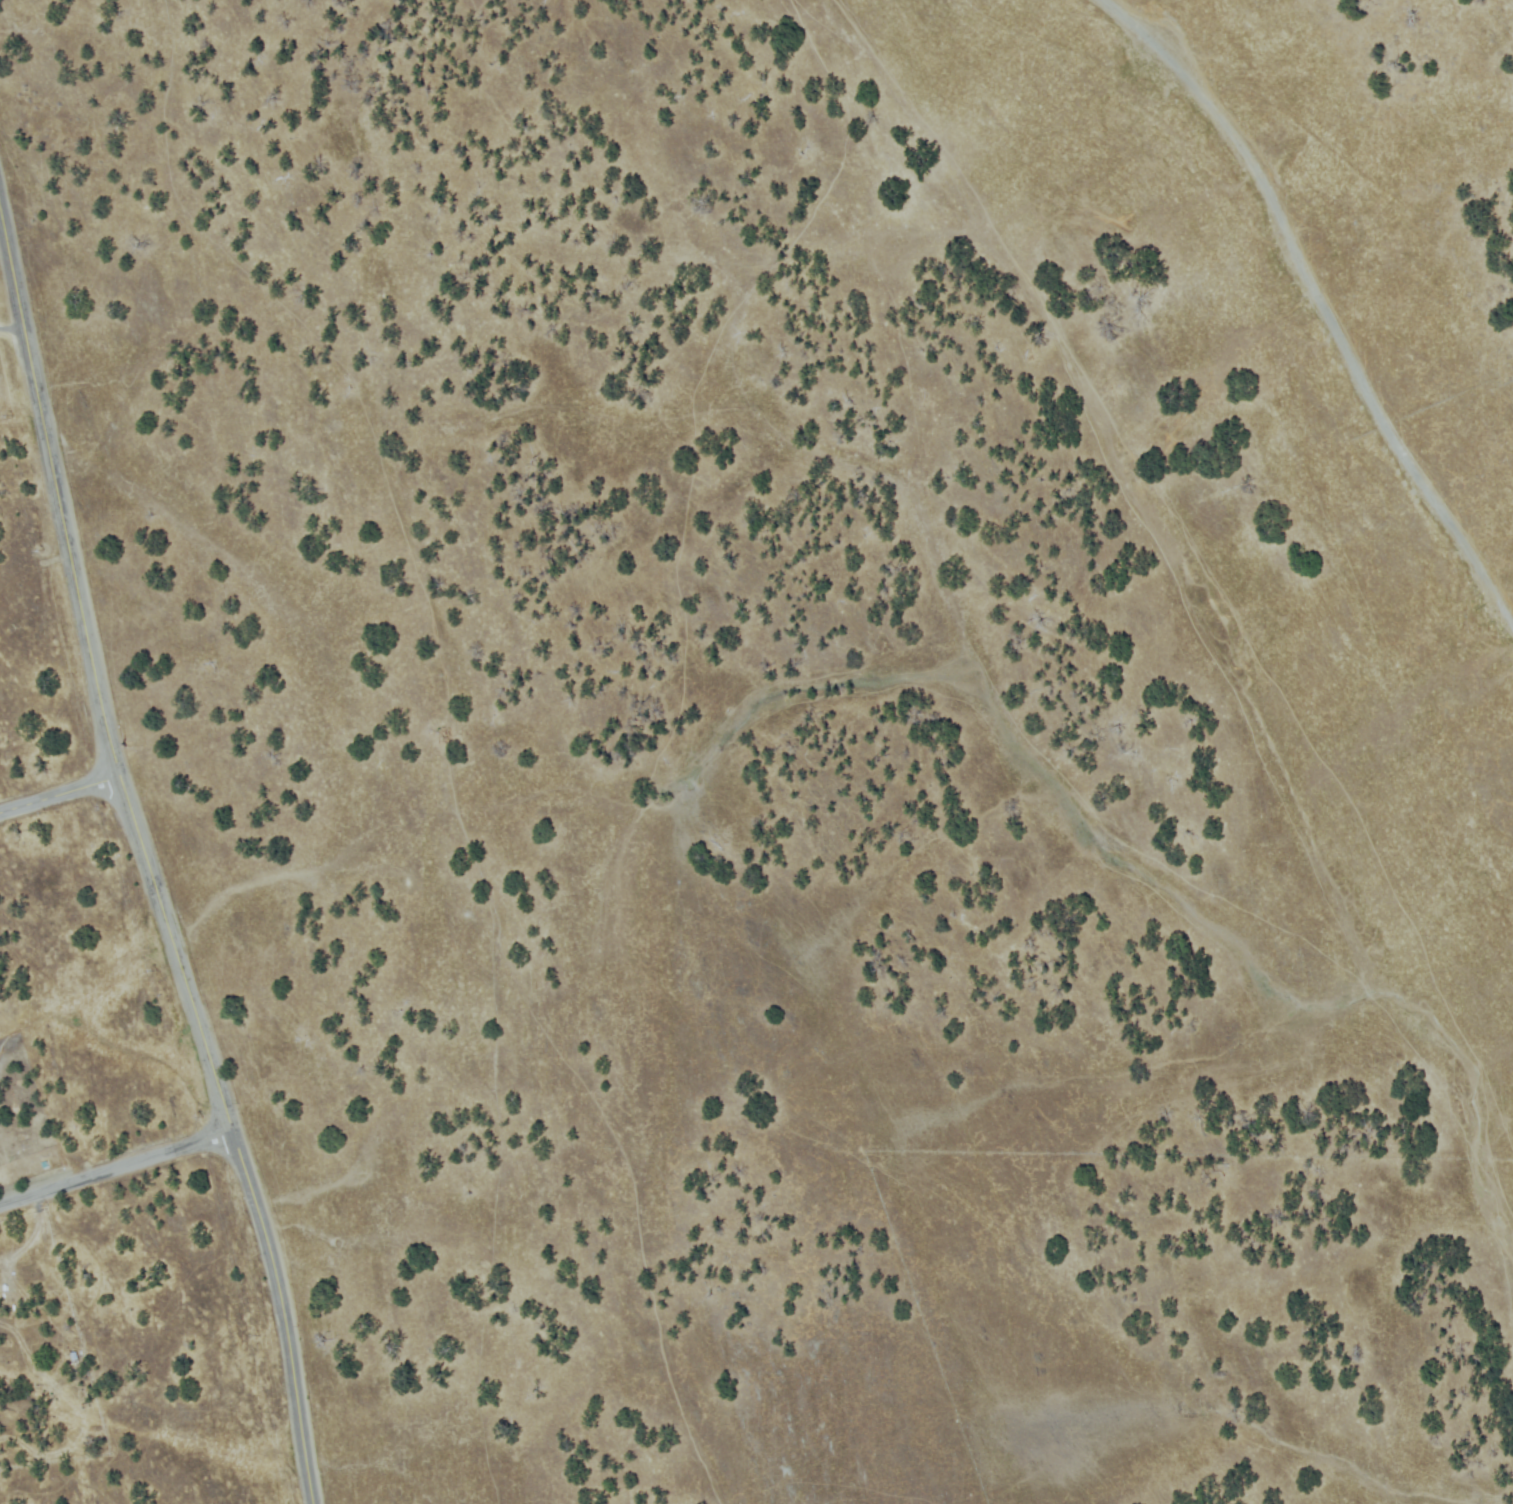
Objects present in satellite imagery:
road: (1319, 304)
road: (58, 794)
road: (145, 873)
road: (113, 1168)
building: (73, 1358)

